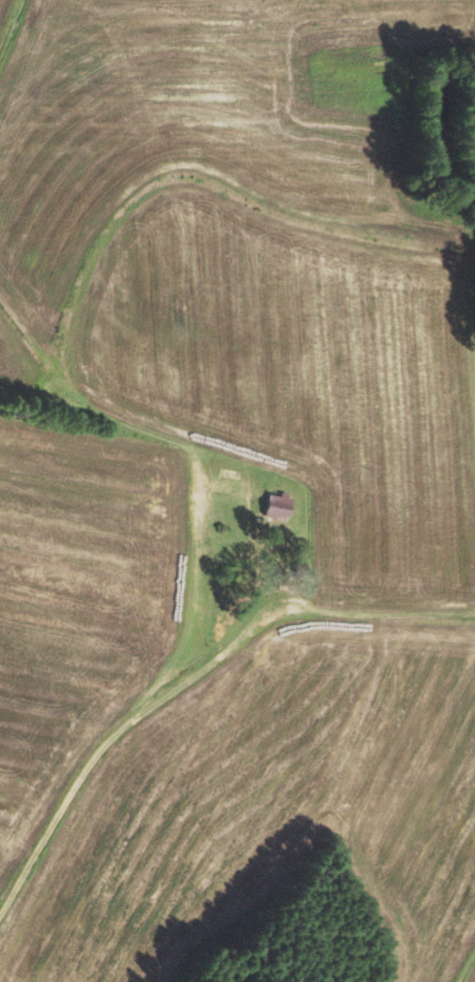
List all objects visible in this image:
building: (282, 506)
road: (188, 667)

